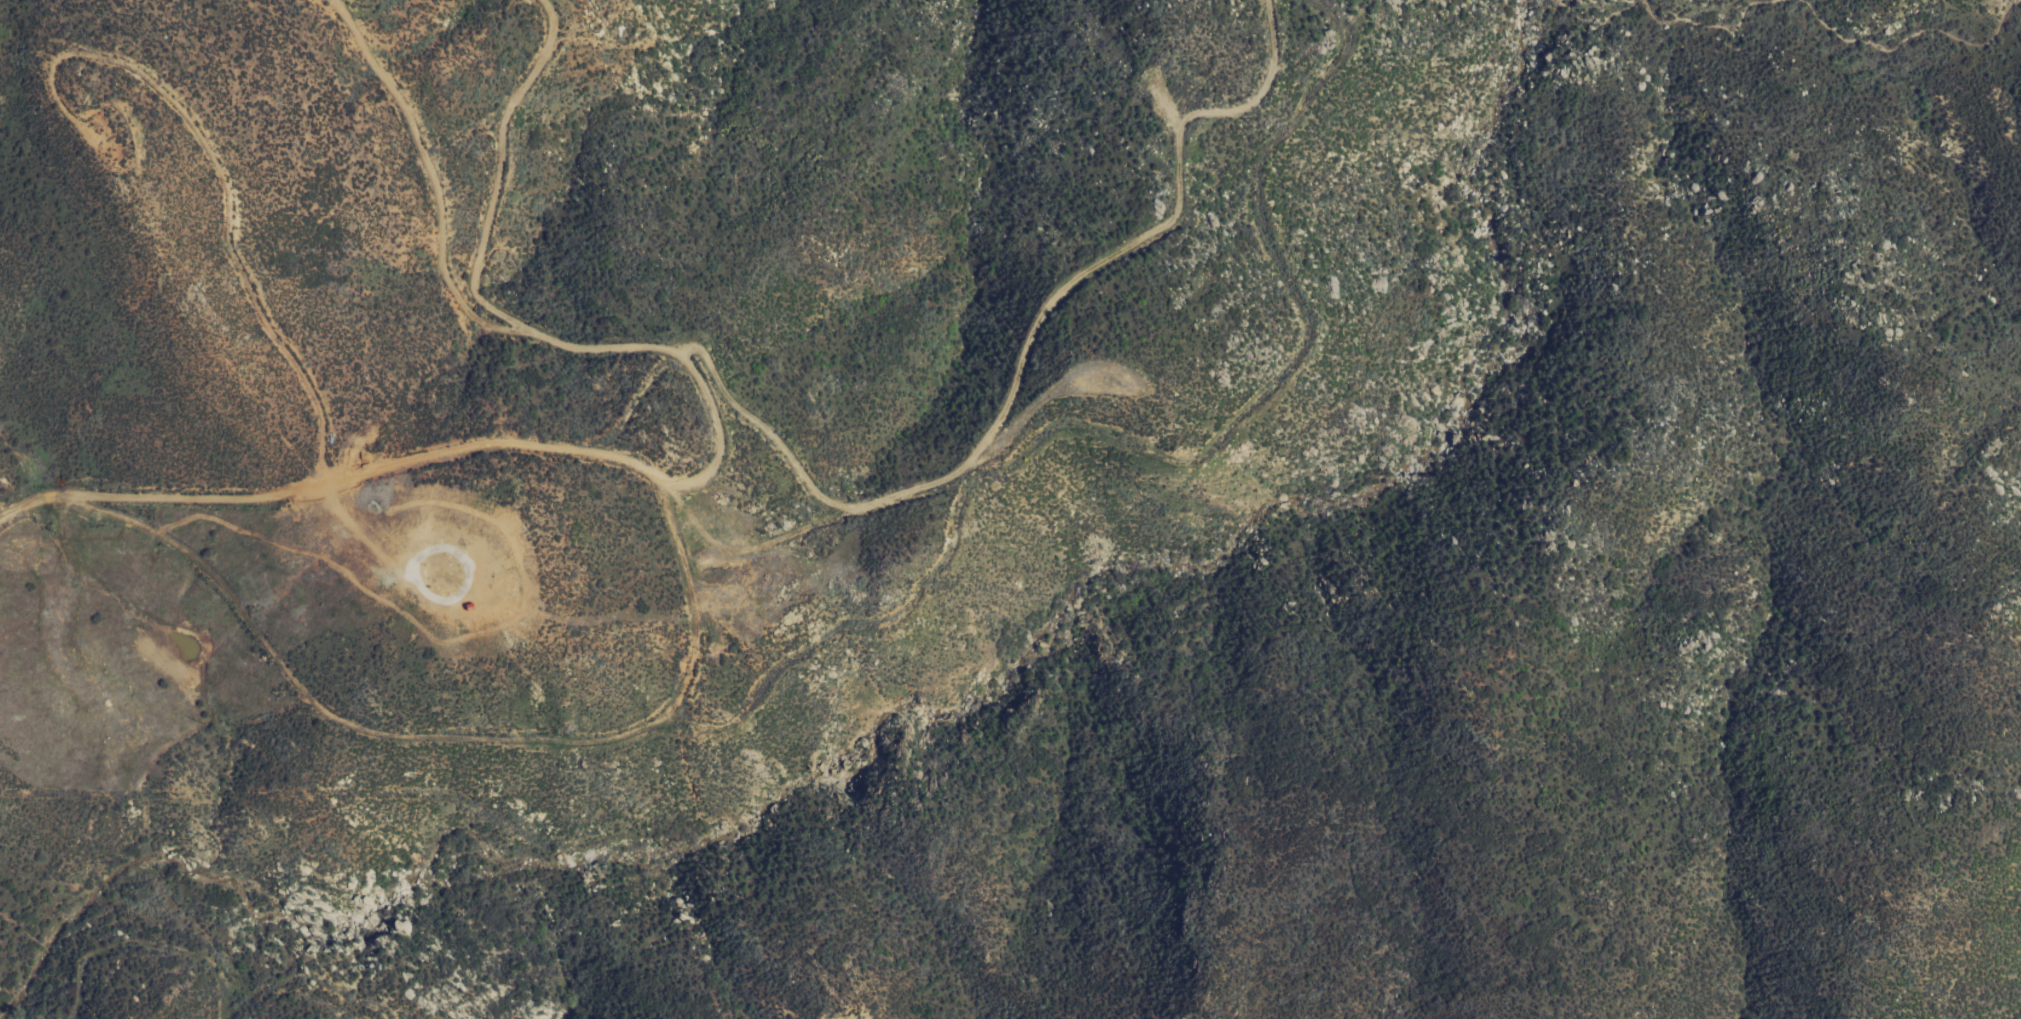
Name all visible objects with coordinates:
road: (685, 483)

